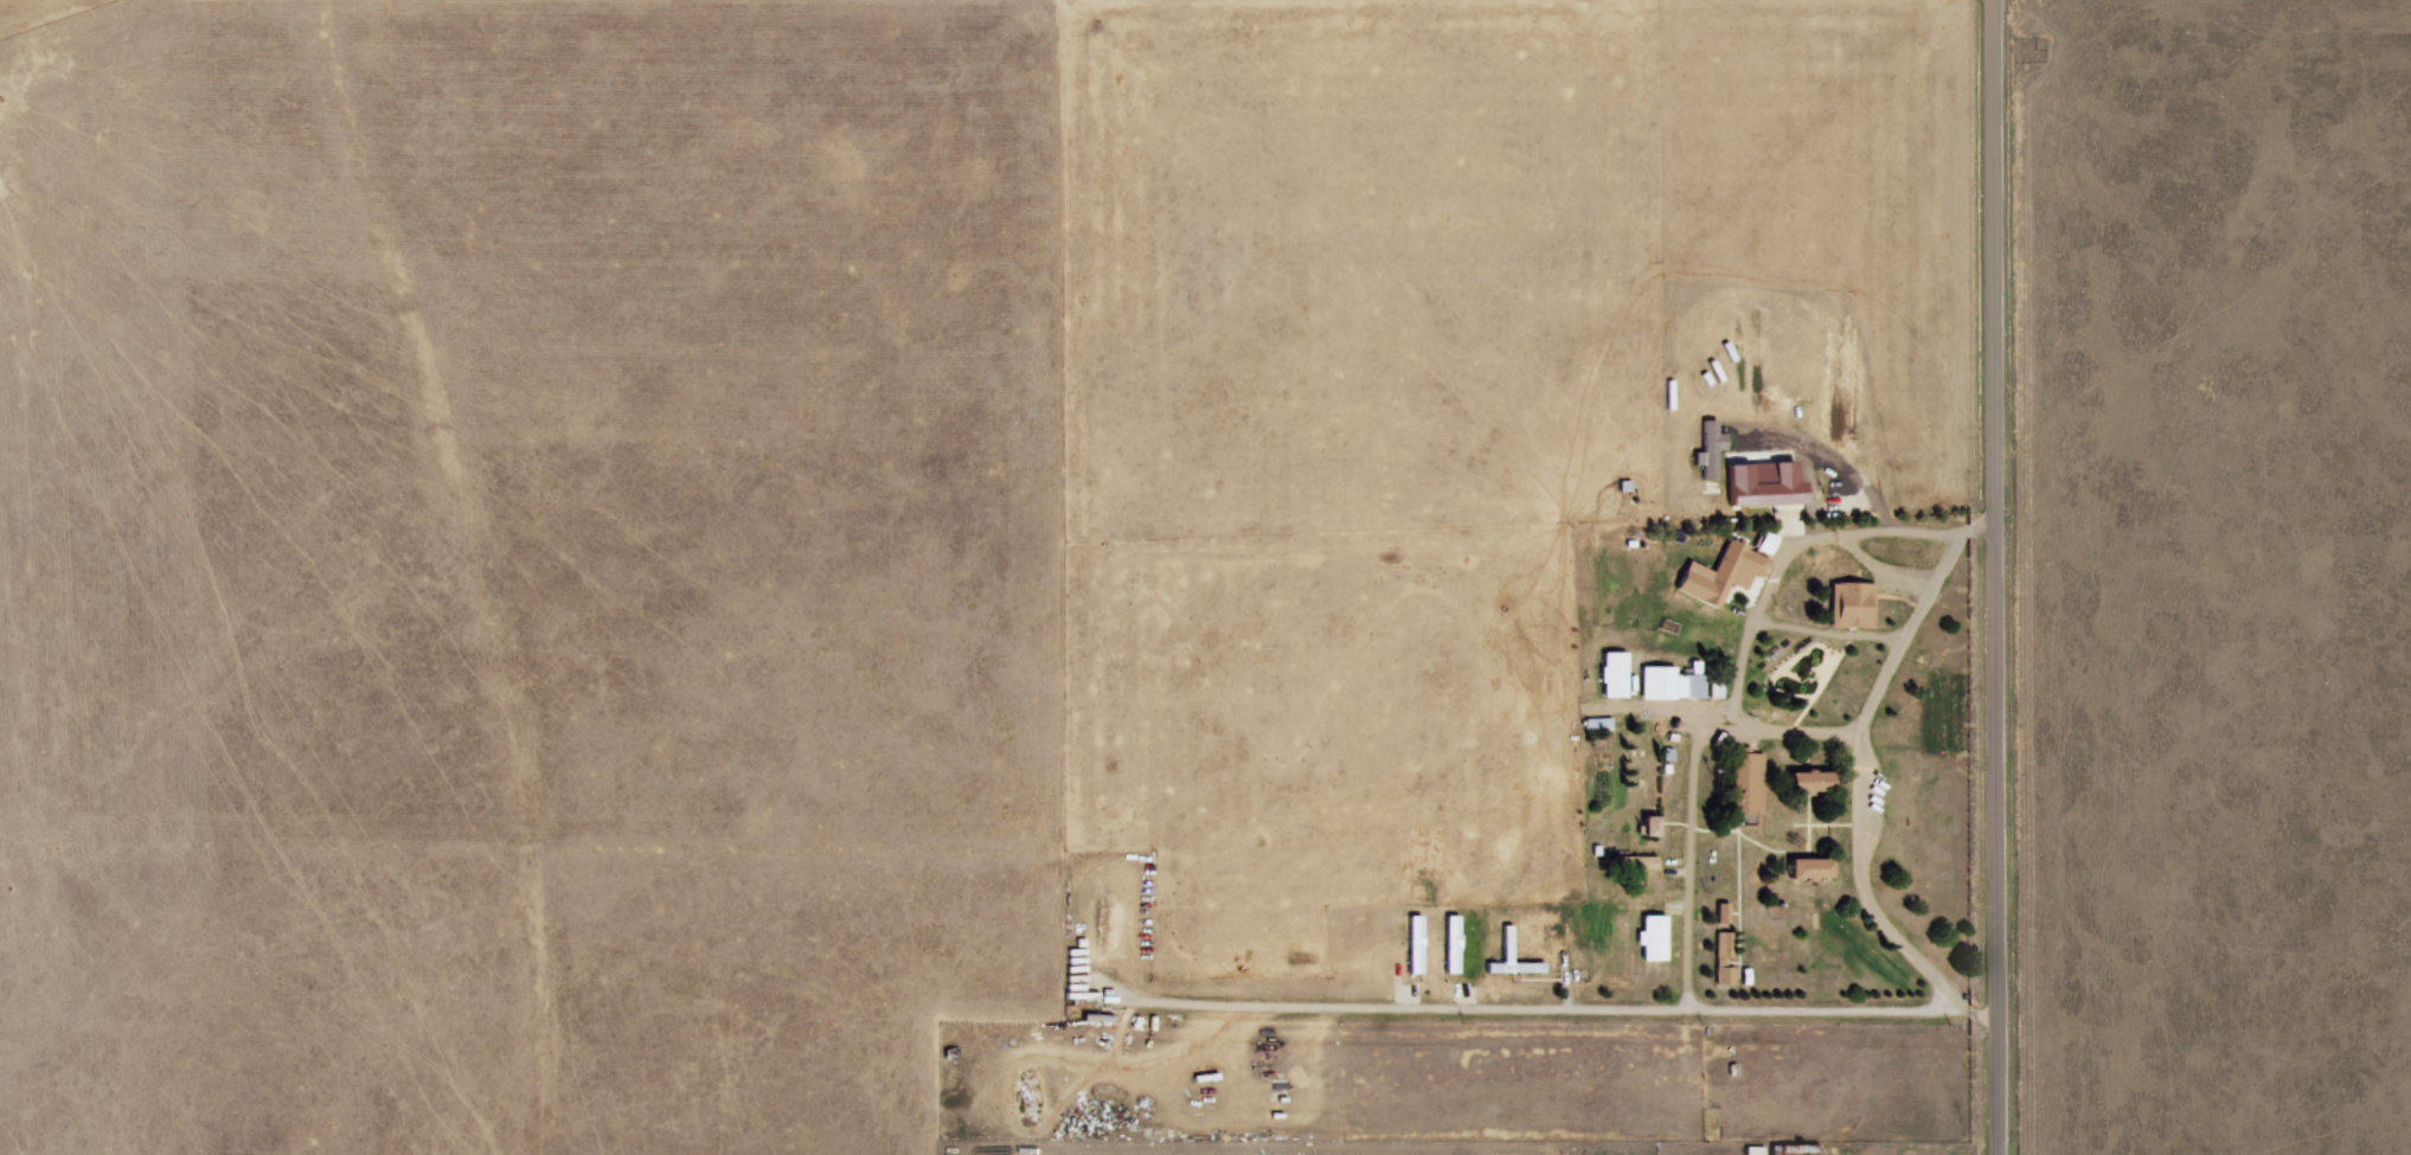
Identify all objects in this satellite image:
road: (1045, 115)
building: (1707, 449)
building: (1776, 487)
building: (1764, 541)
building: (1719, 573)
road: (1996, 577)
road: (1849, 669)
building: (1611, 674)
building: (1668, 682)
building: (1713, 688)
building: (1744, 782)
building: (1647, 824)
building: (1633, 861)
building: (1807, 867)
road: (1843, 905)
building: (1720, 912)
building: (1650, 937)
building: (1721, 945)
building: (1723, 975)

